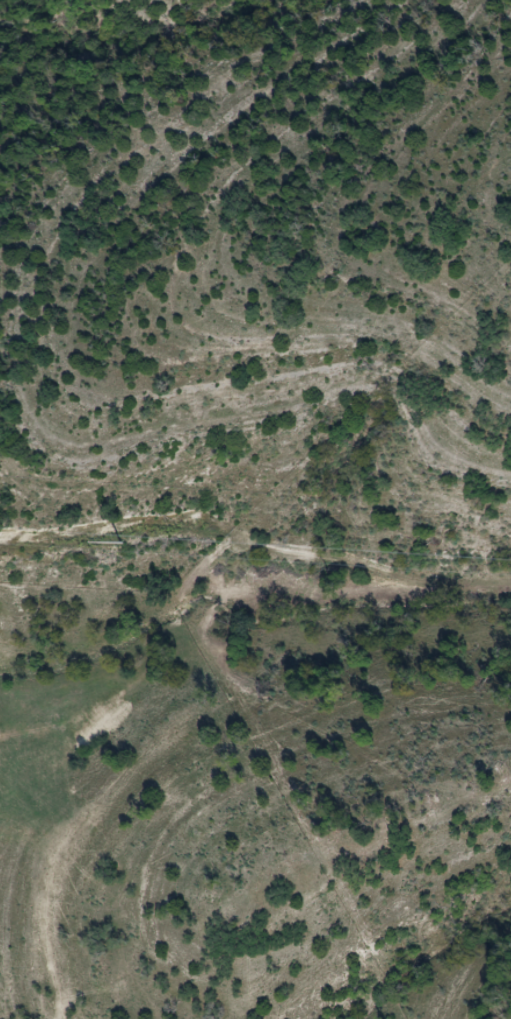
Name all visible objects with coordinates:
power tower: (128, 543)

